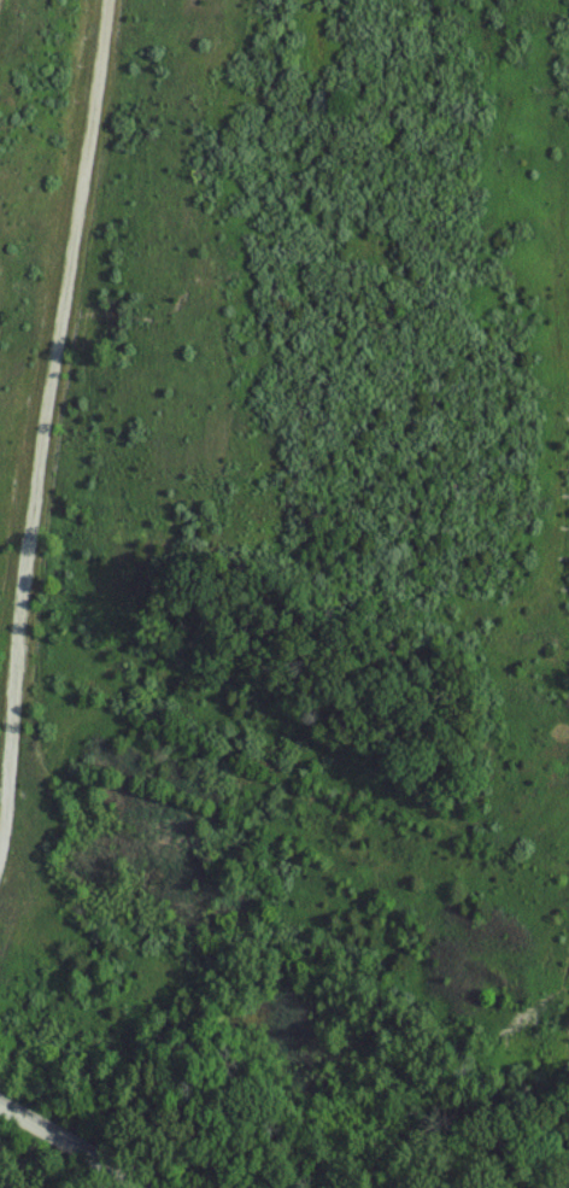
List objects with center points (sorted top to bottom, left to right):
road: (82, 1143)

